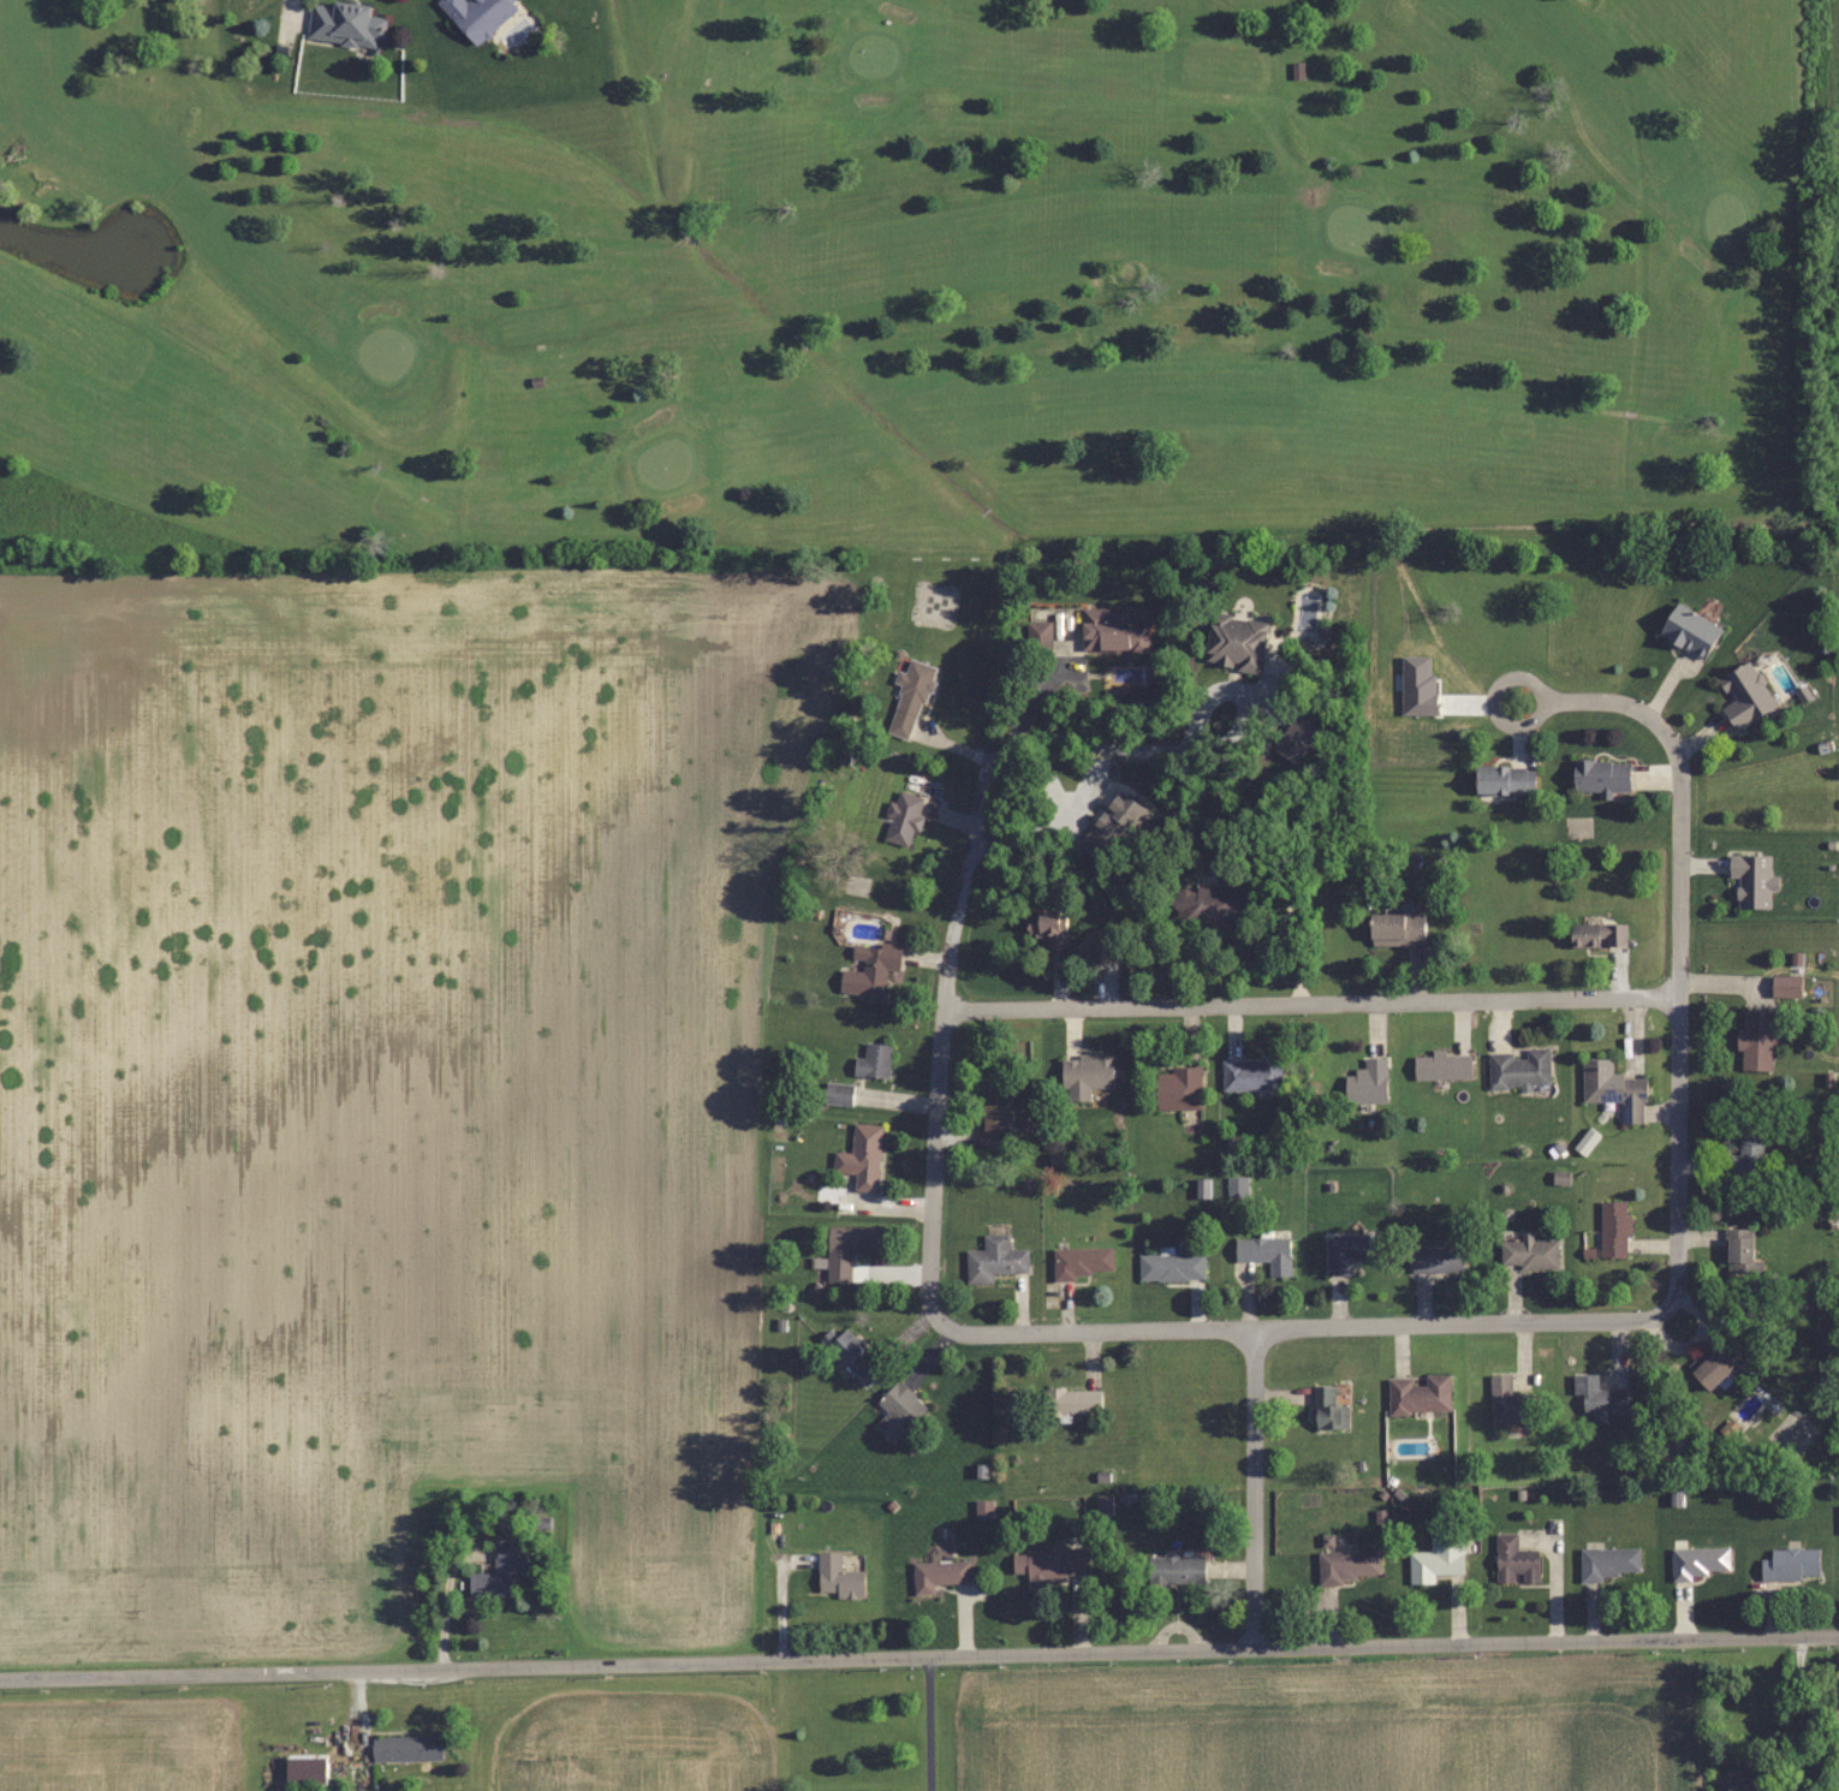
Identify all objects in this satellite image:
building: (477, 14)
building: (345, 23)
building: (1113, 630)
building: (1689, 631)
building: (1038, 637)
building: (1234, 641)
road: (1492, 690)
building: (1745, 695)
building: (909, 697)
road: (1617, 702)
building: (1600, 775)
building: (1504, 779)
building: (901, 817)
building: (1111, 831)
road: (972, 837)
building: (1752, 880)
building: (1209, 906)
building: (1048, 928)
building: (1395, 928)
building: (1597, 935)
building: (1101, 950)
building: (869, 970)
building: (1785, 987)
road: (1311, 1001)
road: (1678, 1037)
building: (1756, 1040)
building: (874, 1061)
building: (1442, 1065)
building: (1519, 1070)
building: (1085, 1075)
building: (1251, 1075)
building: (1367, 1082)
building: (1178, 1089)
building: (1613, 1089)
building: (838, 1094)
building: (993, 1120)
building: (861, 1156)
building: (1749, 1158)
building: (1613, 1230)
building: (846, 1250)
building: (1344, 1251)
building: (1739, 1251)
building: (1264, 1252)
building: (1528, 1252)
building: (1435, 1259)
building: (994, 1260)
building: (1079, 1262)
building: (1171, 1267)
road: (1287, 1327)
building: (855, 1356)
building: (1715, 1365)
building: (1418, 1394)
building: (1599, 1397)
building: (1507, 1400)
building: (1072, 1402)
building: (1327, 1409)
building: (898, 1412)
road: (1255, 1488)
building: (1436, 1560)
building: (1514, 1560)
building: (1700, 1561)
building: (1051, 1563)
building: (1608, 1563)
building: (1790, 1564)
building: (1347, 1566)
building: (1176, 1570)
building: (499, 1572)
building: (938, 1575)
building: (838, 1577)
road: (918, 1655)
road: (1796, 1714)
road: (927, 1722)
building: (406, 1749)
building: (305, 1768)
building: (1746, 1780)

